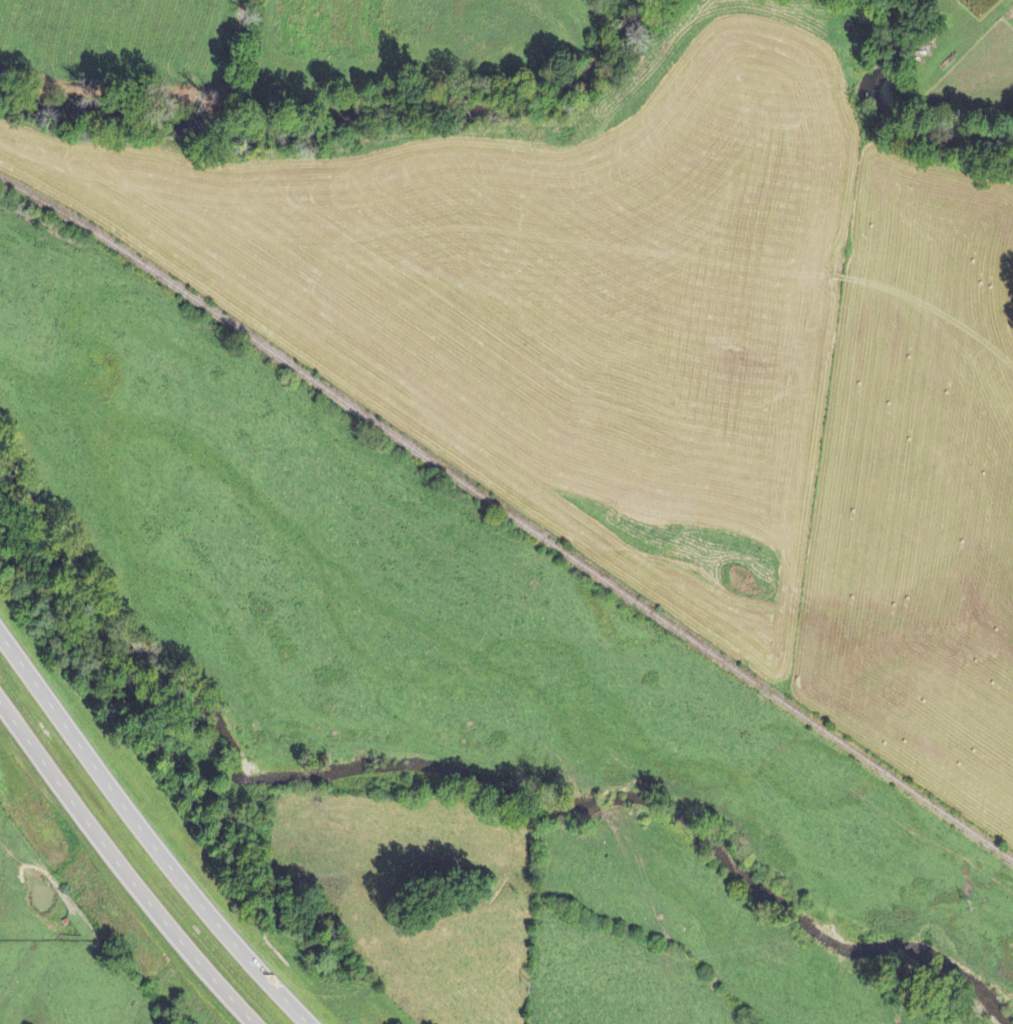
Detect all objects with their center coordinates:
river: (326, 111)
river: (893, 119)
railway: (509, 513)
road: (146, 835)
road: (121, 867)

